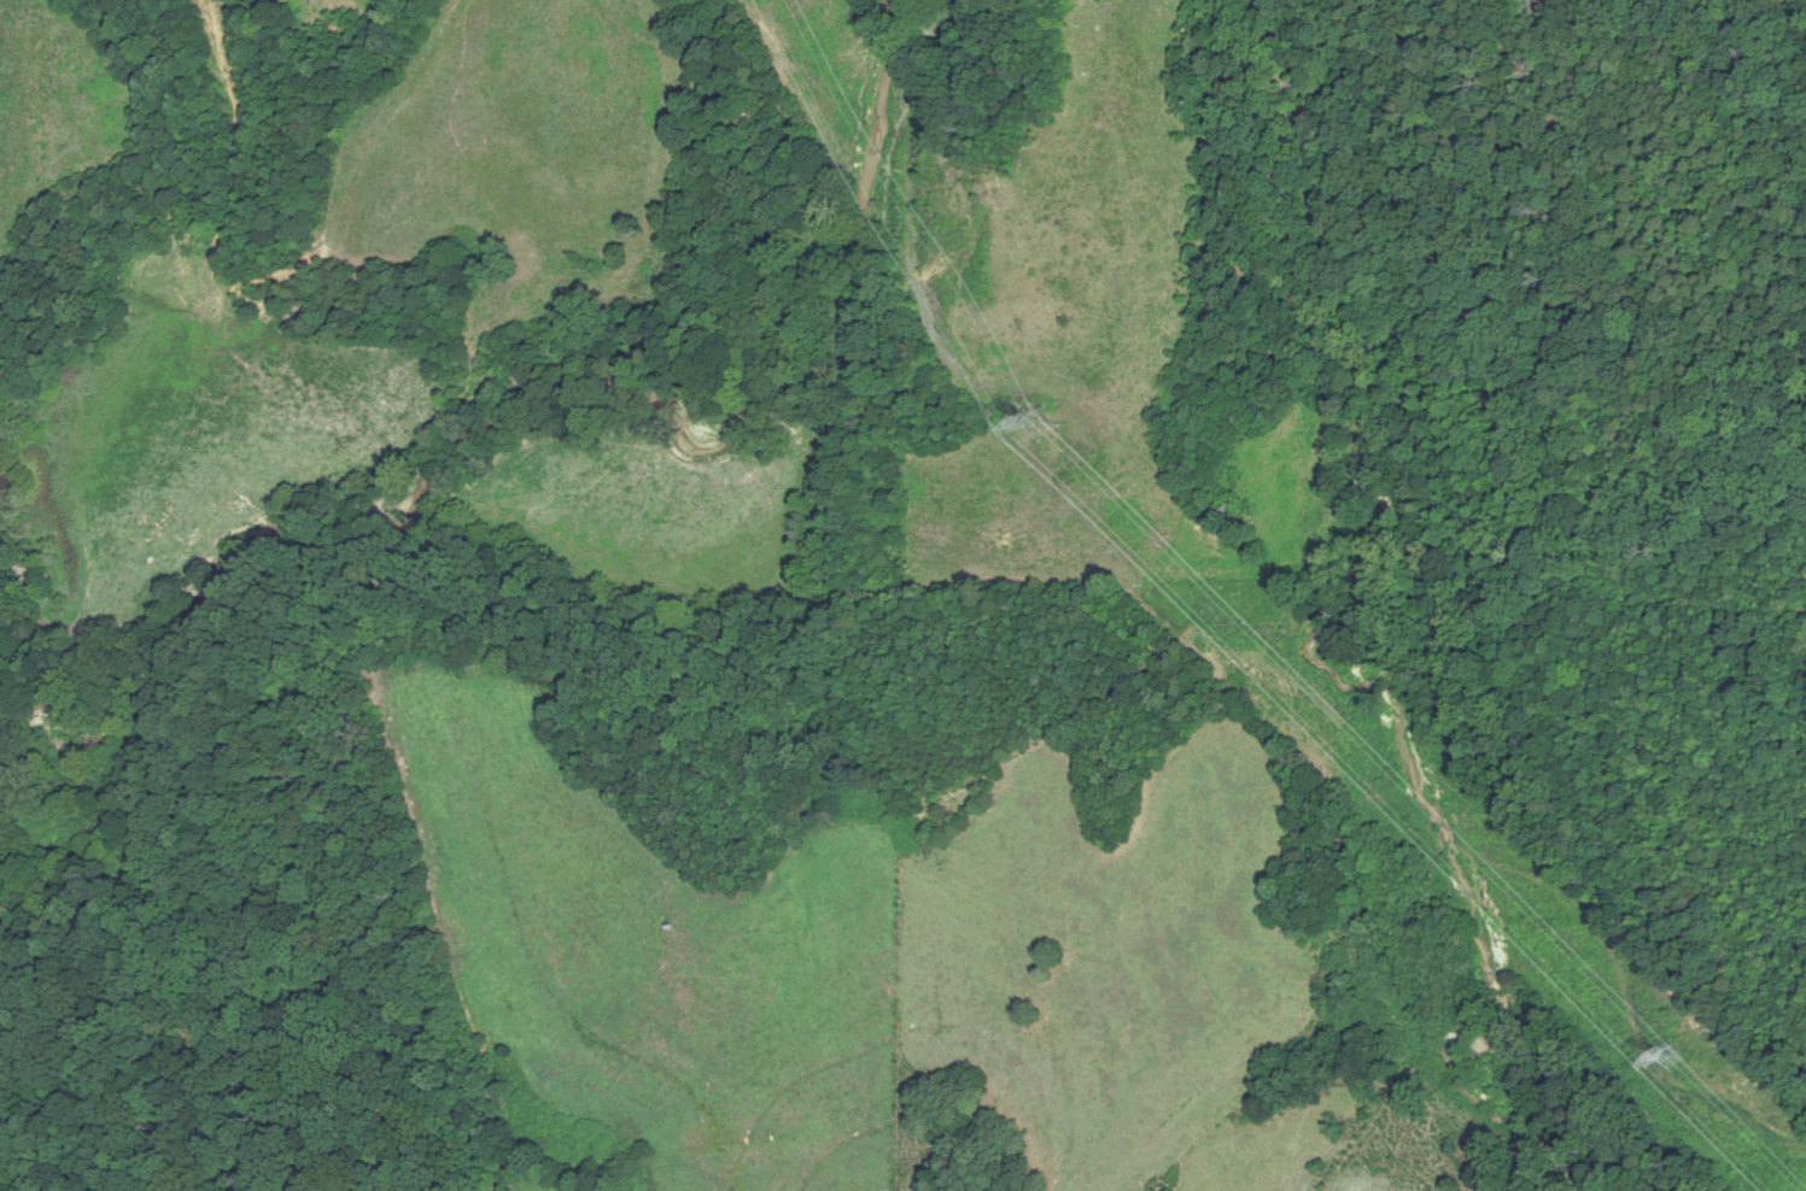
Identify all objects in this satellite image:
power tower: (1046, 427)
power tower: (1671, 1057)

